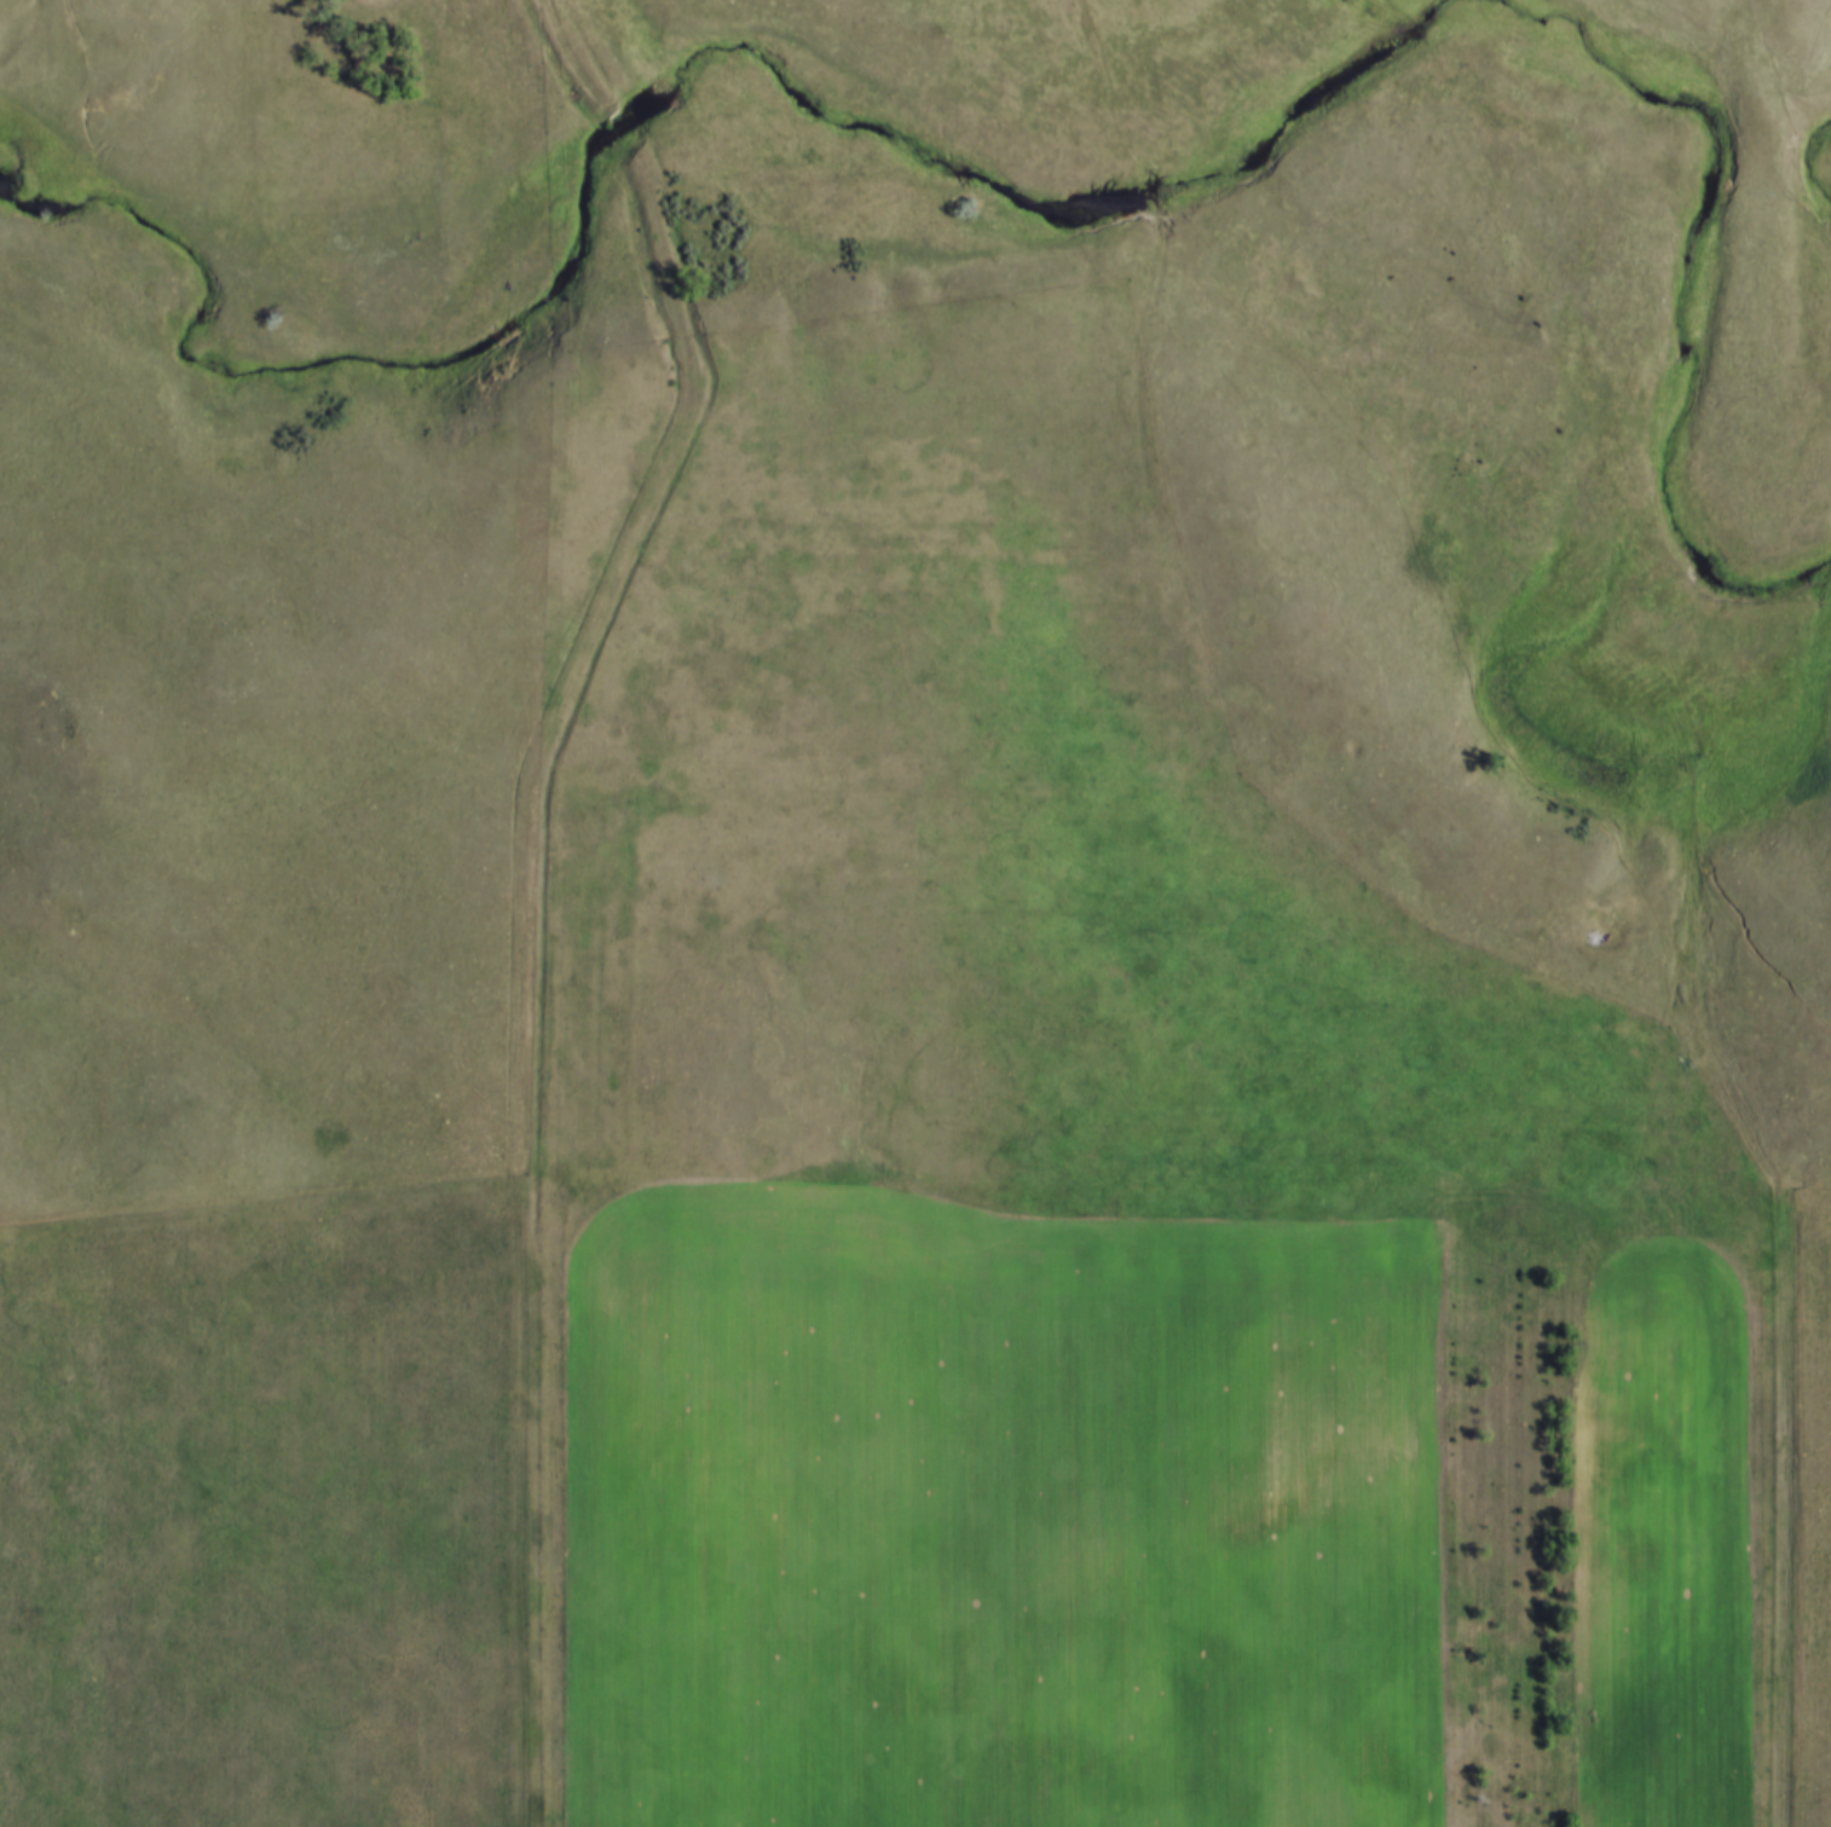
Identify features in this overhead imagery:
road: (1766, 1516)

